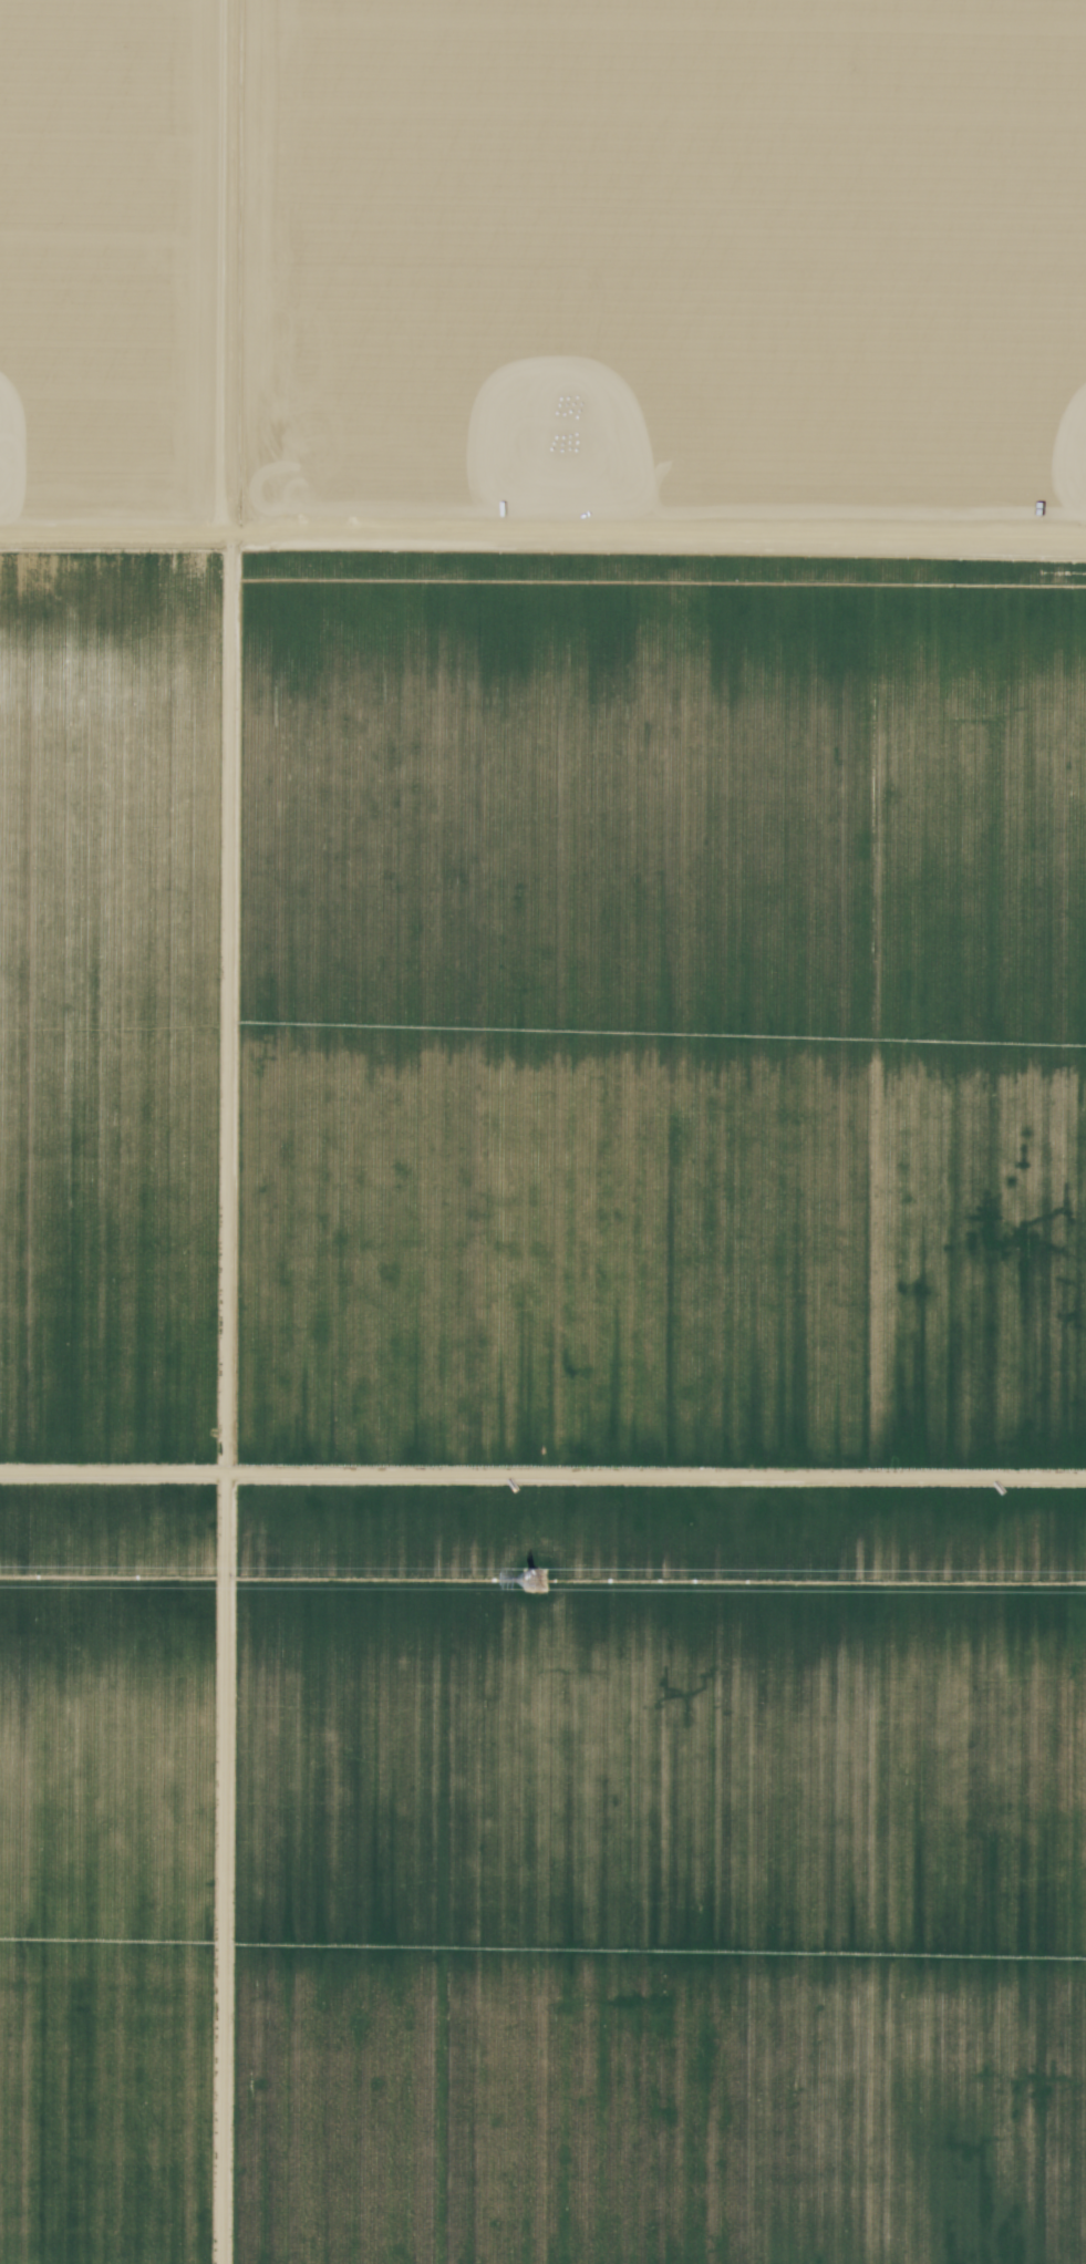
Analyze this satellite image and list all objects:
road: (542, 536)
road: (240, 1131)
crop: (542, 1408)
power tower: (527, 1579)

